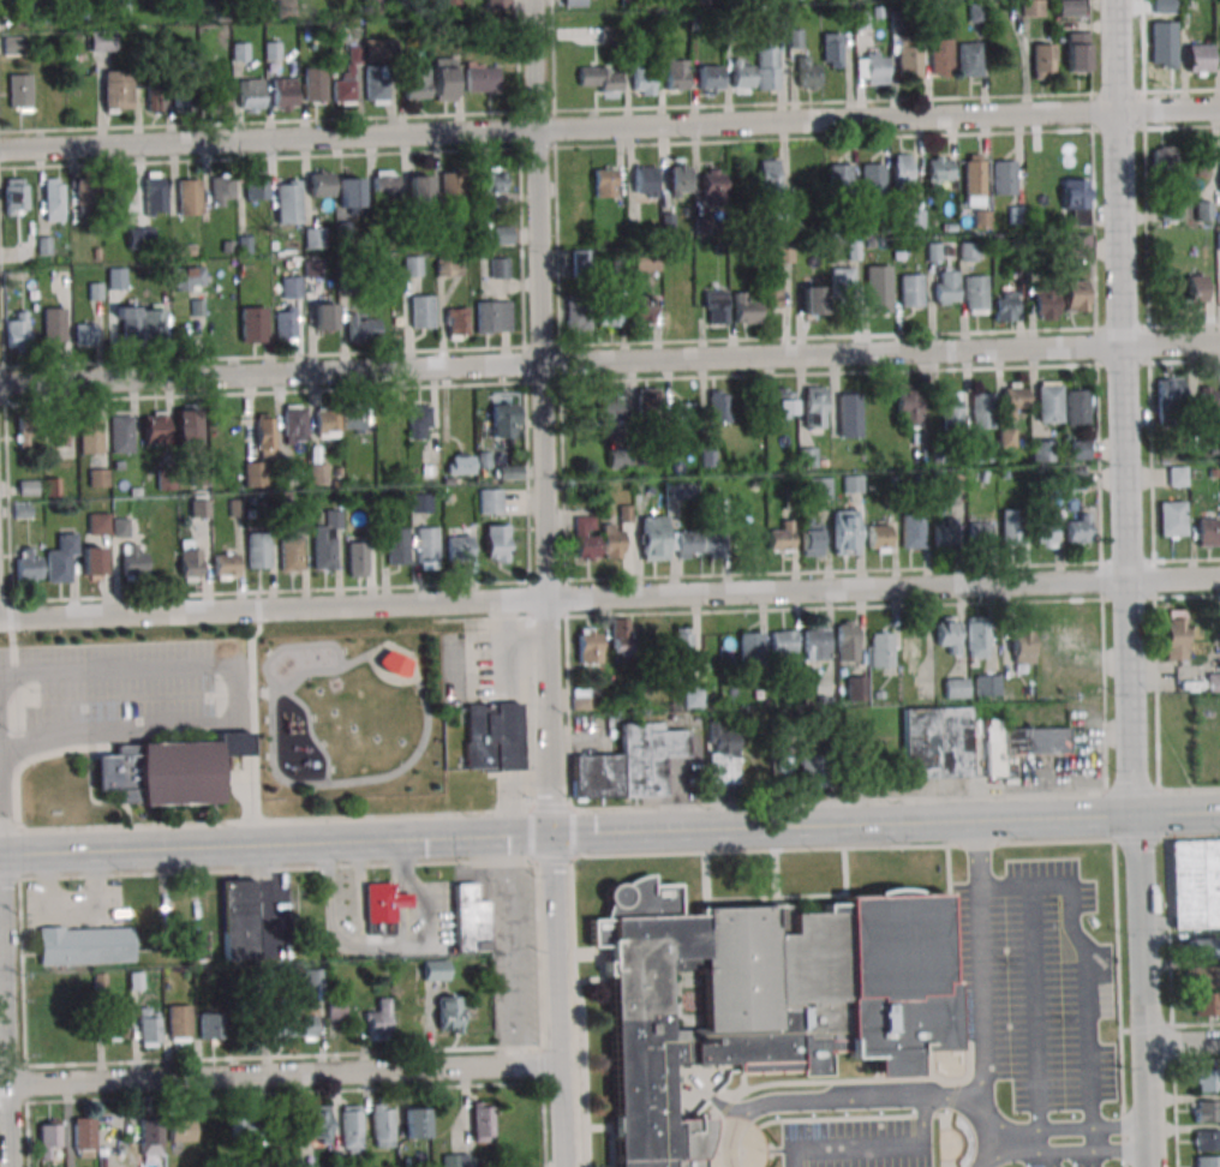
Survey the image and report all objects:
building: (630, 1)
building: (699, 1)
building: (574, 2)
building: (497, 5)
building: (1031, 7)
building: (1067, 7)
building: (976, 12)
building: (776, 25)
building: (102, 41)
building: (13, 46)
building: (832, 49)
building: (1077, 50)
building: (908, 58)
building: (970, 59)
building: (1198, 59)
building: (940, 60)
building: (1042, 61)
building: (871, 67)
building: (767, 68)
building: (675, 73)
building: (742, 74)
building: (807, 74)
building: (482, 78)
building: (599, 78)
building: (444, 79)
building: (710, 79)
building: (642, 80)
building: (315, 84)
building: (376, 84)
building: (415, 84)
building: (343, 89)
building: (116, 90)
building: (19, 92)
building: (285, 92)
building: (251, 95)
building: (221, 97)
building: (154, 98)
building: (186, 102)
road: (609, 126)
building: (901, 169)
building: (938, 170)
building: (839, 175)
building: (769, 176)
building: (1004, 176)
building: (872, 178)
building: (974, 179)
building: (1164, 179)
building: (491, 180)
building: (645, 180)
building: (675, 180)
building: (604, 181)
building: (450, 182)
building: (321, 184)
building: (712, 185)
building: (385, 186)
building: (255, 187)
building: (419, 190)
building: (222, 192)
building: (351, 192)
building: (155, 193)
building: (14, 197)
building: (85, 197)
building: (187, 197)
building: (53, 199)
building: (1076, 201)
building: (287, 202)
building: (1203, 210)
building: (914, 219)
building: (503, 234)
building: (139, 238)
building: (315, 238)
building: (1218, 239)
building: (1076, 246)
building: (968, 251)
building: (783, 253)
building: (645, 261)
building: (412, 267)
building: (449, 267)
building: (498, 268)
building: (187, 279)
building: (842, 280)
building: (292, 287)
building: (946, 287)
building: (878, 288)
building: (911, 289)
building: (1196, 291)
building: (771, 294)
building: (976, 294)
building: (1076, 295)
building: (813, 299)
building: (1046, 303)
building: (1005, 305)
building: (716, 306)
building: (641, 309)
building: (744, 309)
building: (421, 311)
building: (576, 312)
building: (609, 315)
building: (323, 316)
building: (492, 316)
building: (151, 322)
building: (458, 322)
building: (126, 323)
building: (53, 324)
building: (252, 324)
building: (285, 324)
building: (364, 327)
building: (18, 330)
building: (84, 335)
road: (609, 361)
building: (1015, 397)
building: (1170, 399)
building: (647, 402)
building: (784, 402)
building: (1049, 402)
building: (1207, 405)
building: (718, 406)
building: (908, 406)
building: (1077, 407)
road: (1123, 407)
building: (814, 409)
building: (950, 411)
building: (981, 411)
building: (610, 412)
building: (849, 413)
building: (354, 419)
building: (418, 419)
building: (682, 419)
building: (503, 420)
building: (327, 423)
building: (294, 424)
building: (187, 426)
building: (155, 427)
building: (26, 429)
building: (61, 431)
building: (265, 431)
building: (121, 433)
building: (90, 436)
building: (1081, 449)
building: (1041, 450)
building: (706, 454)
building: (807, 456)
building: (460, 463)
building: (509, 472)
building: (252, 473)
building: (318, 473)
building: (1178, 475)
building: (98, 477)
building: (819, 487)
building: (678, 490)
building: (489, 501)
building: (420, 503)
building: (199, 507)
building: (1172, 519)
building: (98, 523)
building: (1011, 527)
building: (1078, 528)
building: (1045, 529)
building: (913, 531)
building: (1208, 531)
building: (845, 532)
building: (945, 533)
building: (979, 533)
building: (812, 535)
building: (586, 537)
building: (781, 537)
building: (879, 537)
building: (653, 538)
building: (327, 540)
building: (612, 540)
building: (713, 541)
building: (496, 543)
building: (687, 544)
building: (396, 545)
building: (458, 546)
building: (427, 547)
building: (258, 550)
building: (291, 555)
building: (357, 558)
building: (133, 559)
building: (190, 559)
building: (61, 561)
building: (91, 562)
building: (29, 565)
building: (226, 565)
road: (546, 583)
road: (609, 593)
building: (949, 633)
building: (1174, 634)
building: (621, 635)
building: (977, 636)
building: (783, 641)
building: (848, 641)
building: (681, 642)
building: (817, 644)
road: (293, 645)
building: (749, 645)
building: (587, 646)
building: (883, 650)
building: (1023, 650)
building: (913, 653)
building: (394, 664)
building: (988, 684)
building: (857, 688)
building: (956, 688)
road: (234, 696)
building: (693, 698)
building: (580, 699)
road: (253, 713)
park: (347, 714)
road: (311, 734)
building: (494, 736)
building: (937, 743)
building: (1019, 743)
road: (417, 753)
building: (723, 756)
building: (629, 764)
building: (781, 767)
building: (167, 770)
building: (814, 772)
road: (0, 784)
road: (1, 802)
road: (609, 808)
road: (609, 831)
traffic signals: (551, 834)
road: (832, 848)
road: (977, 852)
road: (397, 867)
road: (773, 874)
building: (1195, 882)
road: (359, 893)
road: (772, 898)
road: (399, 902)
building: (382, 908)
building: (239, 918)
building: (471, 920)
road: (335, 939)
road: (950, 944)
building: (84, 946)
building: (198, 946)
building: (1206, 947)
road: (1086, 958)
building: (435, 970)
building: (1204, 977)
parking lot: (1034, 985)
road: (1118, 989)
road: (1144, 989)
building: (764, 998)
road: (981, 998)
road: (580, 999)
building: (1207, 1004)
road: (1036, 1006)
building: (336, 1009)
road: (6, 1011)
building: (450, 1012)
building: (115, 1021)
building: (305, 1021)
building: (179, 1022)
building: (385, 1024)
building: (213, 1025)
building: (149, 1027)
road: (1172, 1042)
road: (1183, 1042)
road: (923, 1065)
road: (279, 1073)
road: (837, 1079)
building: (1207, 1081)
road: (742, 1083)
road: (861, 1100)
road: (716, 1103)
building: (1207, 1111)
road: (848, 1117)
building: (482, 1121)
building: (316, 1123)
building: (417, 1123)
road: (945, 1123)
building: (382, 1125)
building: (181, 1129)
building: (351, 1129)
road: (1065, 1129)
building: (245, 1130)
road: (611, 1135)
building: (47, 1137)
building: (84, 1137)
building: (151, 1139)
road: (1094, 1139)
road: (1040, 1141)
building: (1207, 1141)
parking lot: (859, 1143)
road: (872, 1144)
road: (762, 1147)
road: (753, 1151)
road: (1066, 1151)
building: (458, 1160)
building: (1207, 1161)
parking lot: (1043, 1163)
parking lot: (1087, 1163)

